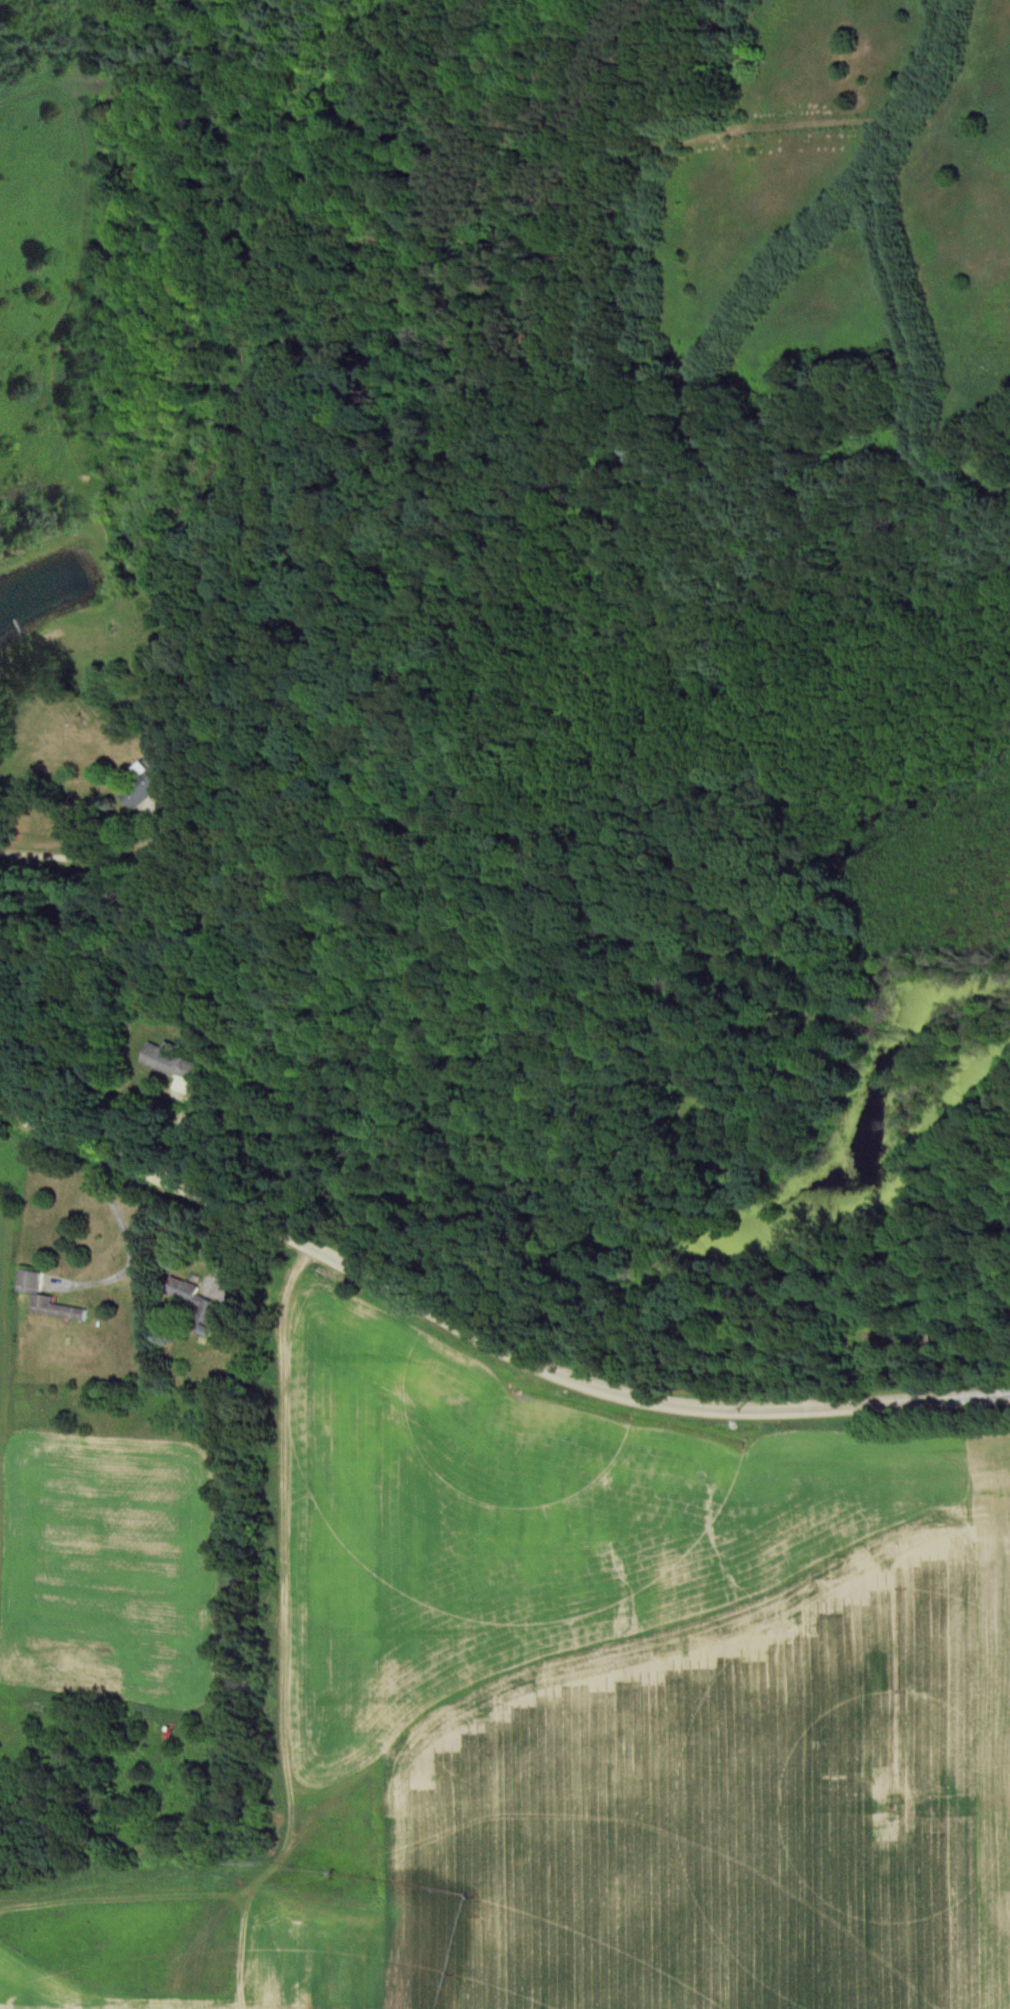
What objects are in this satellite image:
building: (146, 784)
road: (59, 847)
building: (171, 1061)
building: (47, 1299)
building: (194, 1300)
building: (871, 1332)
road: (485, 1342)

